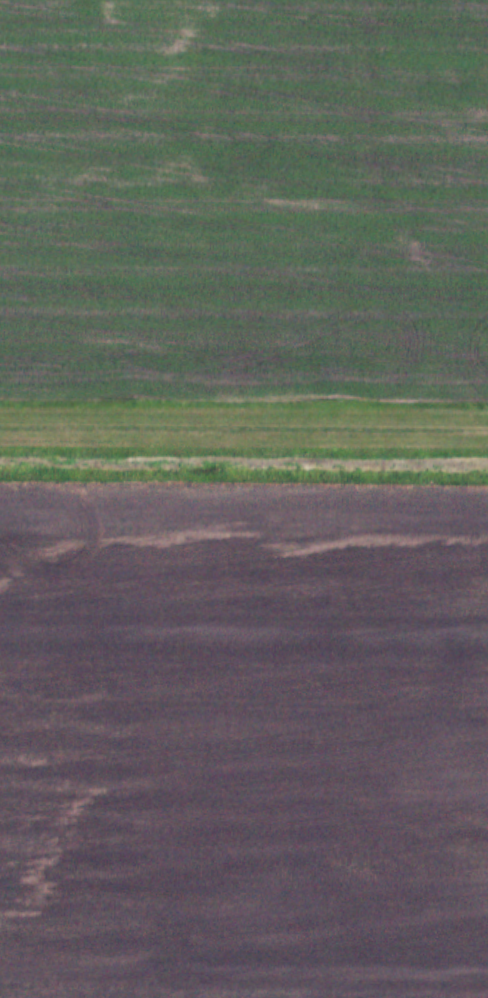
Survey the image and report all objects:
crop: (244, 202)
road: (244, 422)
crop: (243, 737)

